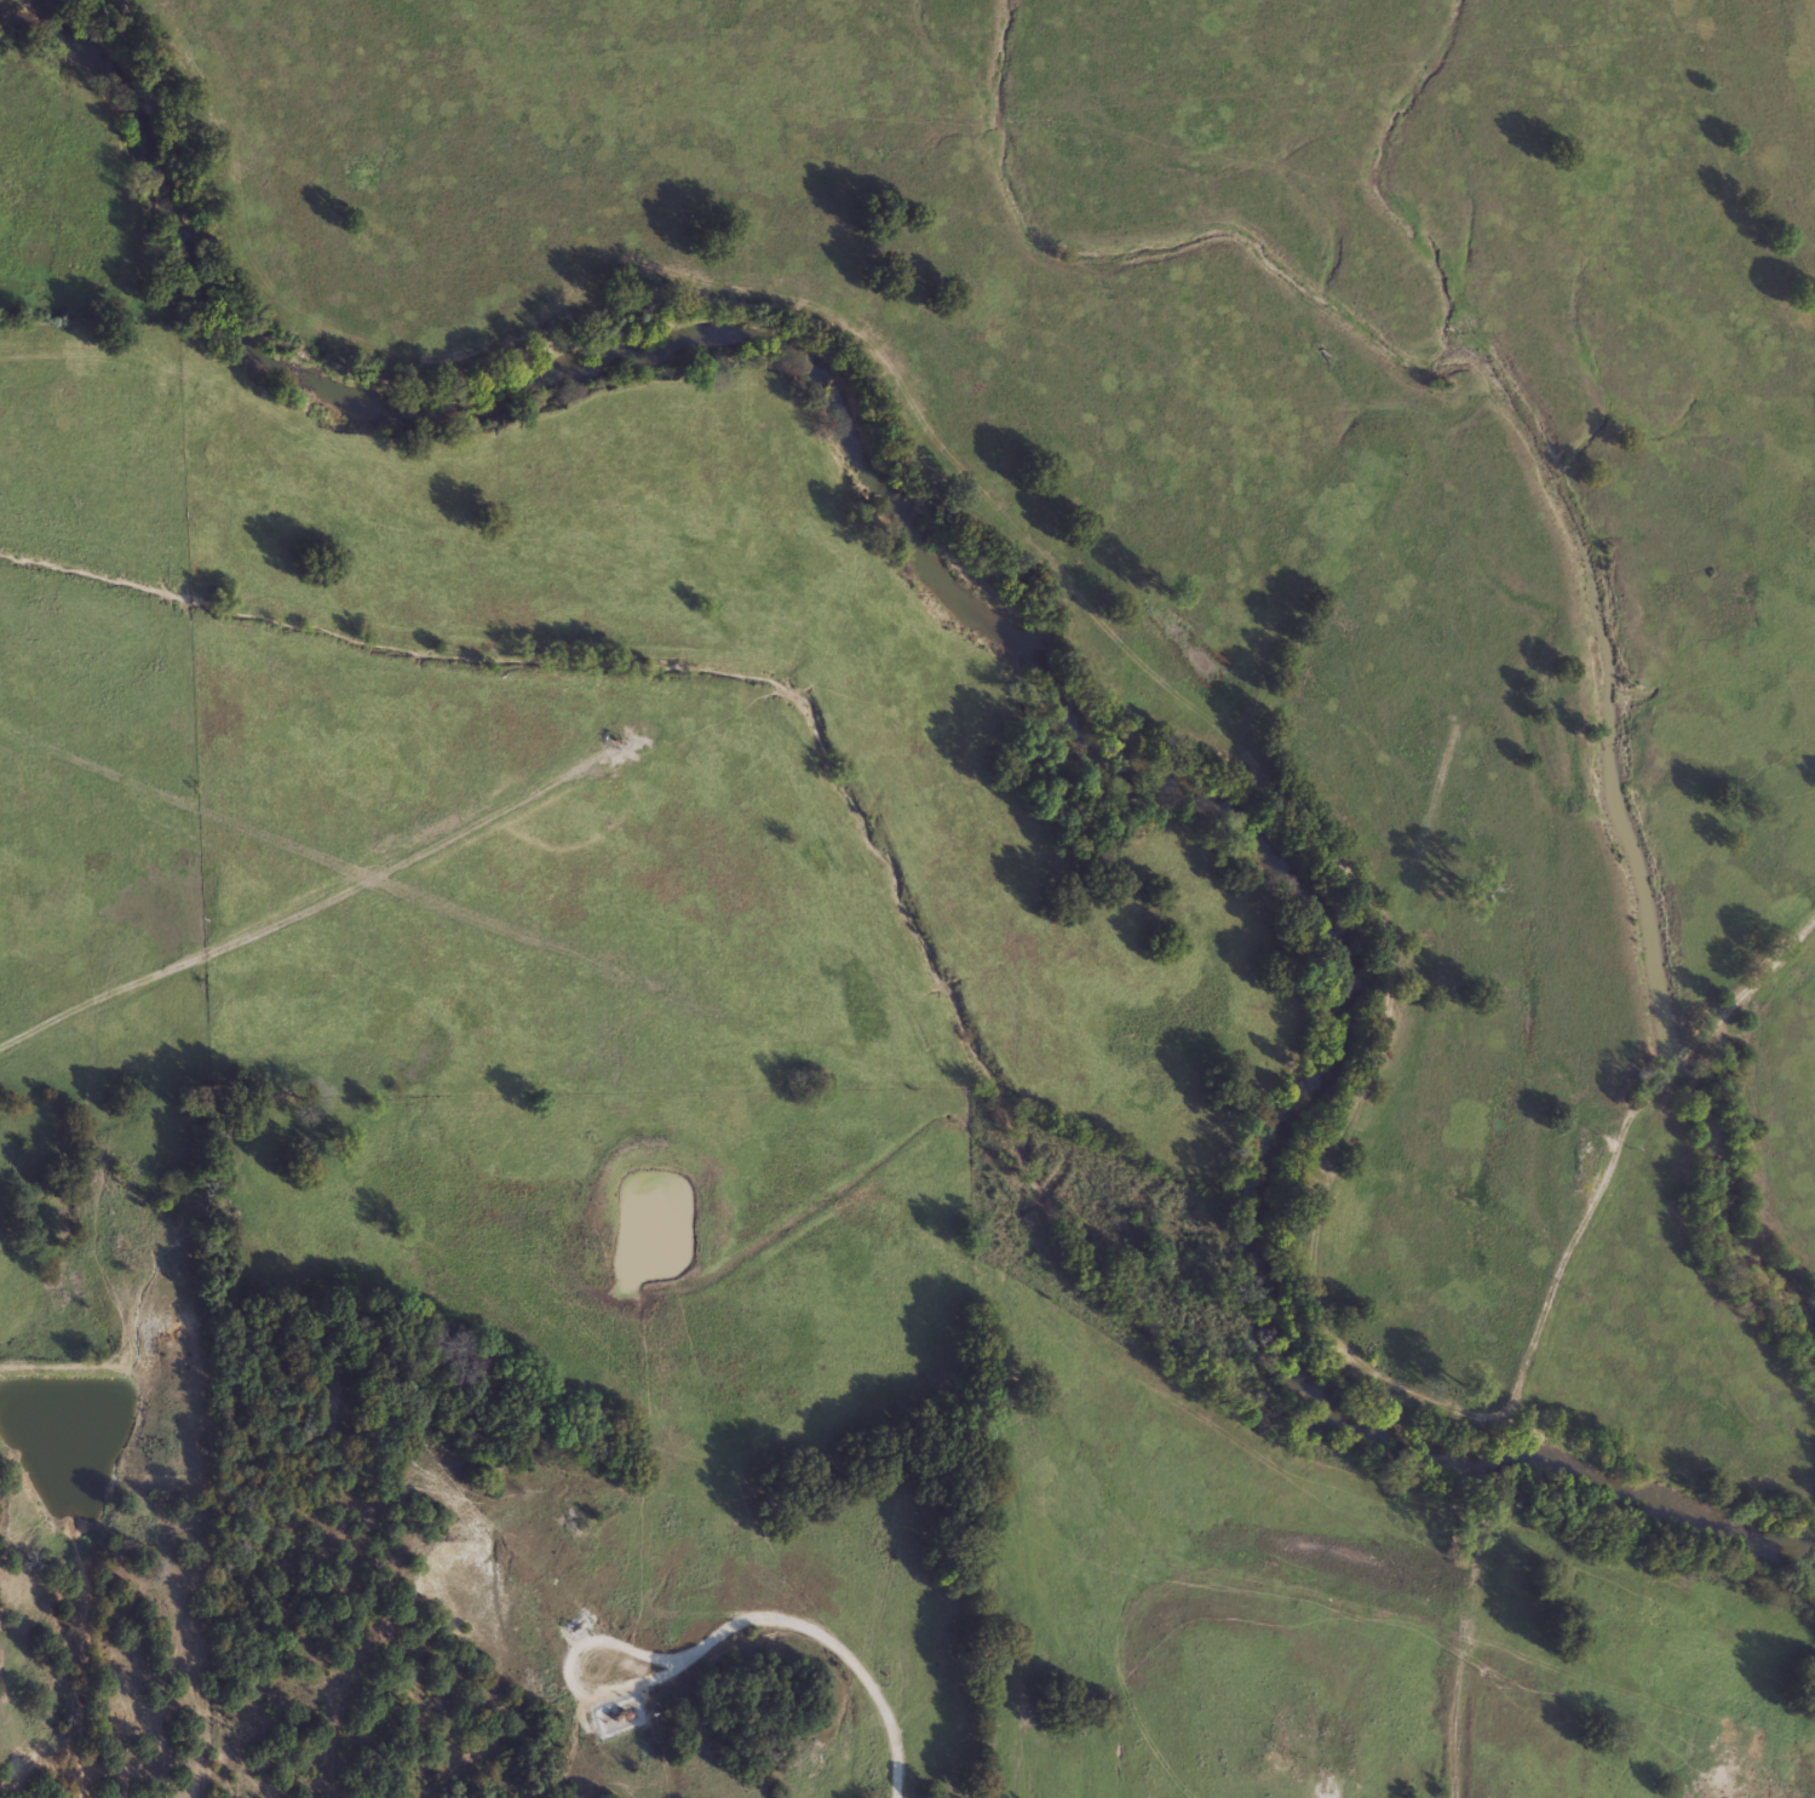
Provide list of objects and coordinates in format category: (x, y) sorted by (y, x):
road: (1580, 1355)
road: (832, 1641)
road: (569, 1671)

